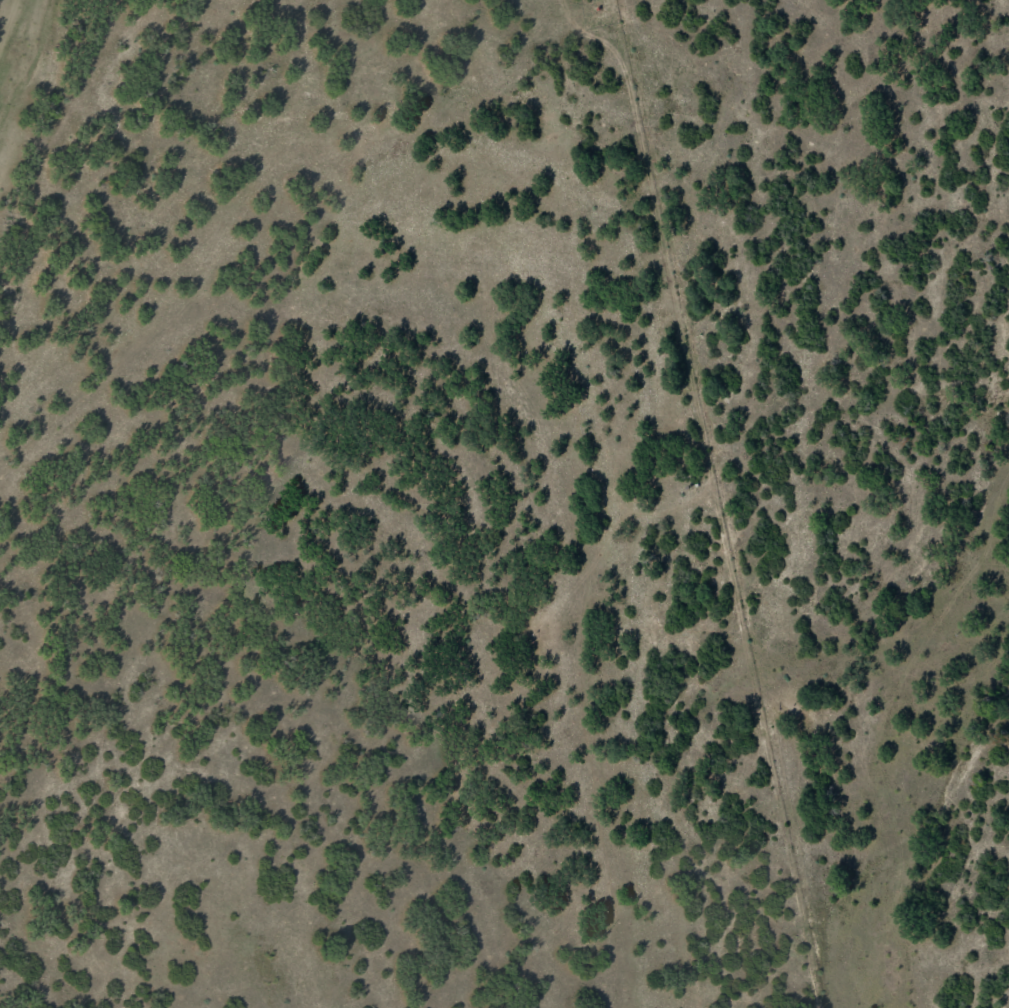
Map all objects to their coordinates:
road: (192, 298)

